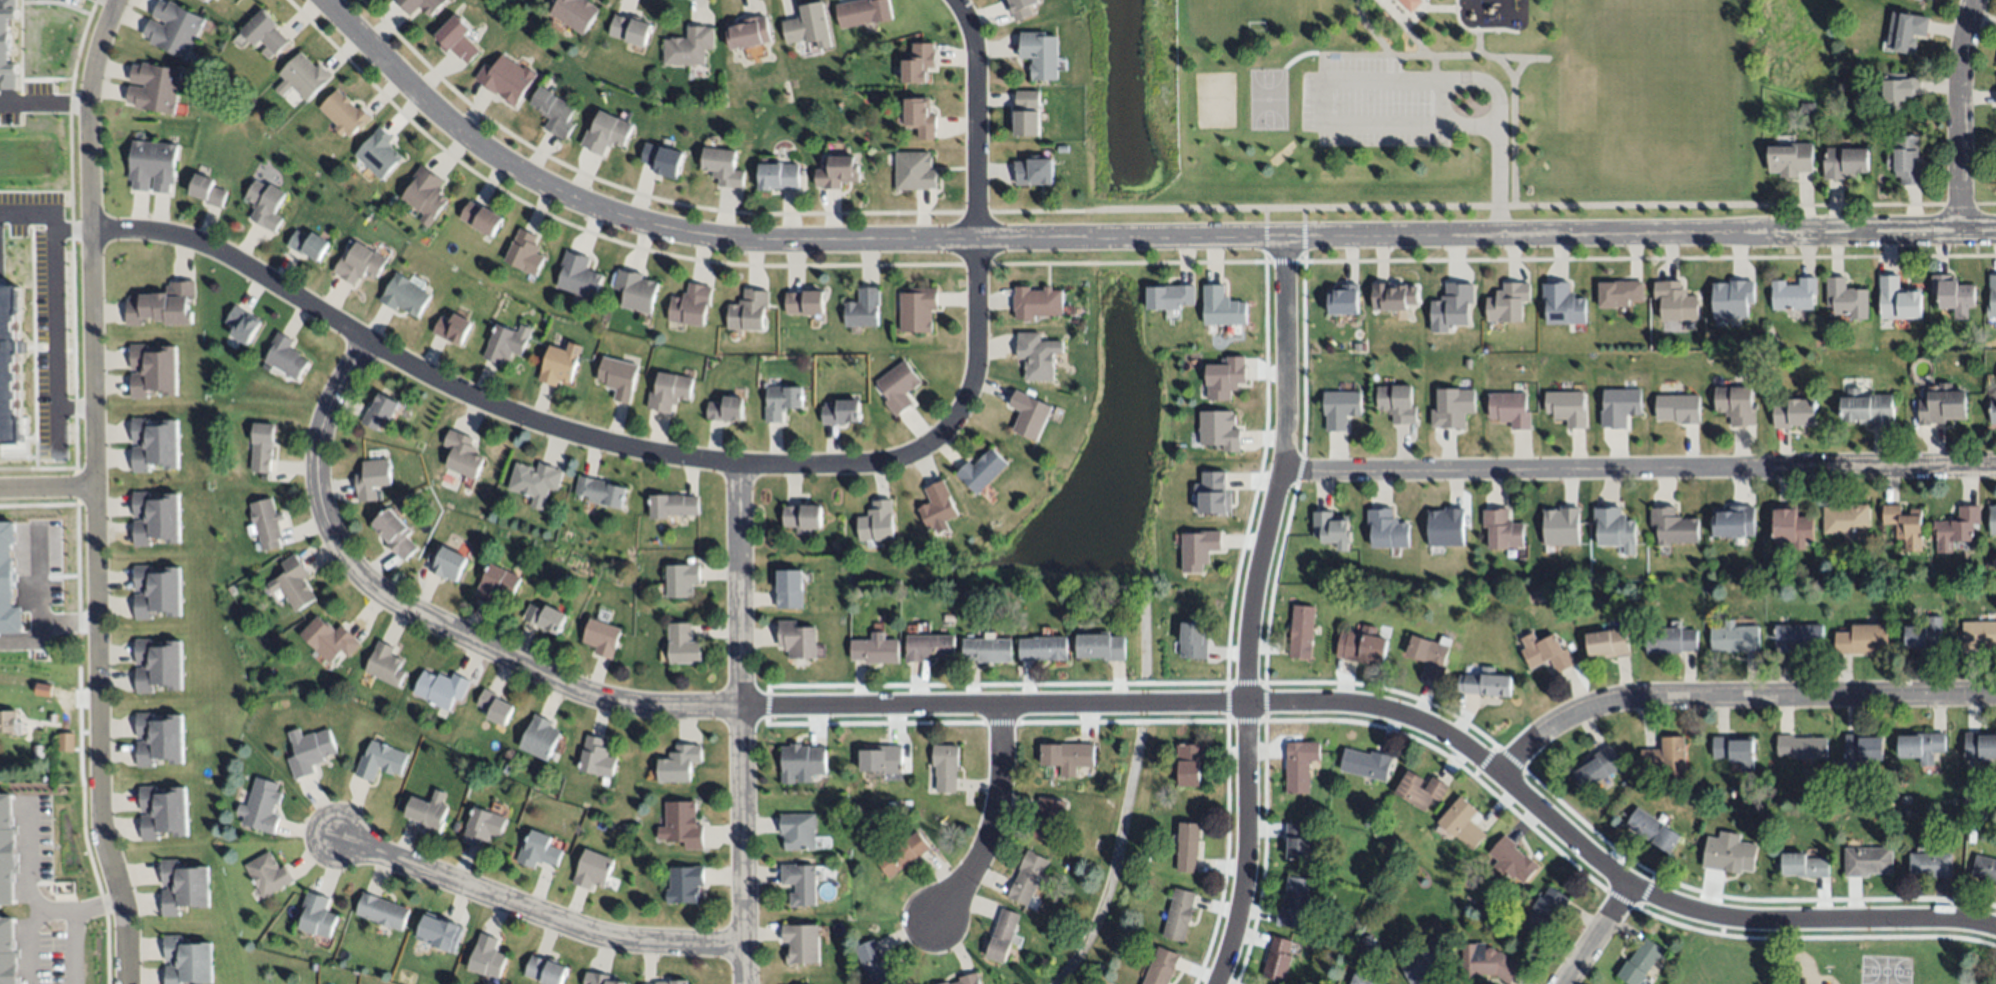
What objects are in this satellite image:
building: (1919, 0)
building: (203, 1)
road: (107, 4)
building: (420, 5)
building: (1412, 5)
building: (1023, 9)
building: (864, 11)
building: (575, 12)
building: (809, 24)
building: (175, 27)
building: (265, 30)
building: (1906, 31)
building: (631, 32)
building: (748, 33)
building: (458, 37)
building: (7, 45)
building: (691, 49)
road: (1515, 57)
building: (1043, 58)
building: (919, 61)
road: (1519, 68)
building: (305, 74)
building: (508, 79)
building: (156, 87)
building: (1898, 89)
park: (1576, 101)
road: (44, 105)
building: (1806, 108)
parking lot: (1361, 109)
park: (1438, 109)
building: (554, 111)
building: (345, 112)
road: (1961, 115)
building: (919, 116)
road: (978, 116)
building: (1029, 117)
building: (607, 131)
building: (378, 151)
building: (663, 158)
road: (1497, 159)
building: (1791, 160)
building: (1907, 160)
building: (153, 164)
road: (1513, 164)
building: (1844, 164)
building: (722, 165)
building: (838, 170)
building: (1033, 170)
building: (777, 174)
building: (915, 174)
building: (207, 189)
building: (425, 192)
building: (267, 203)
road: (1244, 210)
building: (481, 218)
road: (1125, 238)
building: (307, 242)
building: (524, 252)
building: (360, 261)
building: (578, 274)
building: (635, 289)
building: (1170, 292)
building: (1622, 292)
building: (1952, 292)
building: (404, 293)
building: (1395, 294)
building: (1794, 295)
building: (1992, 296)
building: (1735, 297)
building: (1847, 299)
building: (1034, 300)
building: (1679, 300)
building: (1898, 300)
building: (804, 301)
building: (1344, 301)
building: (161, 303)
building: (1508, 303)
building: (1563, 303)
building: (689, 304)
building: (861, 307)
building: (748, 308)
building: (917, 308)
building: (1222, 308)
building: (1451, 308)
road: (48, 319)
building: (243, 324)
building: (452, 326)
building: (504, 341)
building: (1036, 354)
building: (285, 355)
building: (557, 364)
building: (10, 367)
building: (152, 368)
building: (618, 375)
building: (1225, 376)
building: (898, 387)
building: (668, 390)
building: (781, 401)
building: (1397, 401)
building: (1738, 403)
building: (1942, 405)
building: (1619, 407)
building: (725, 408)
building: (1567, 408)
building: (1868, 408)
building: (379, 409)
building: (1452, 409)
building: (1511, 409)
building: (1677, 409)
building: (1340, 410)
building: (841, 412)
building: (1028, 412)
building: (1993, 412)
building: (1794, 413)
building: (1219, 427)
road: (601, 439)
building: (154, 442)
building: (262, 446)
building: (461, 453)
building: (981, 469)
road: (1637, 471)
building: (372, 475)
building: (534, 479)
road: (47, 487)
road: (94, 490)
building: (601, 490)
building: (1214, 493)
building: (936, 504)
building: (671, 505)
building: (155, 516)
building: (802, 516)
building: (1739, 519)
building: (1846, 519)
building: (1992, 520)
building: (877, 521)
building: (265, 522)
building: (1904, 522)
building: (1671, 524)
building: (1503, 526)
building: (1615, 526)
building: (1792, 526)
building: (1334, 527)
building: (1385, 527)
building: (1560, 527)
building: (1445, 528)
building: (1956, 528)
building: (393, 531)
building: (1199, 547)
building: (447, 562)
building: (680, 577)
building: (495, 581)
building: (8, 582)
building: (293, 583)
building: (789, 587)
building: (156, 590)
building: (1330, 591)
road: (1252, 611)
building: (546, 616)
building: (1301, 631)
building: (1978, 634)
building: (1737, 635)
building: (602, 636)
building: (1926, 636)
building: (1798, 637)
building: (330, 638)
building: (1672, 638)
building: (796, 639)
building: (1863, 639)
building: (1193, 641)
building: (682, 642)
building: (1607, 643)
building: (1361, 645)
building: (927, 647)
building: (1100, 647)
building: (1043, 648)
building: (874, 649)
building: (986, 650)
building: (1548, 653)
building: (1430, 656)
building: (157, 663)
building: (384, 663)
building: (1488, 683)
building: (441, 687)
building: (43, 690)
road: (1736, 695)
road: (1066, 704)
building: (495, 705)
building: (10, 723)
road: (741, 723)
building: (539, 734)
building: (158, 736)
building: (1922, 746)
building: (1803, 747)
building: (1979, 748)
building: (1863, 749)
building: (1735, 750)
building: (310, 751)
building: (596, 756)
building: (1666, 756)
building: (1066, 757)
building: (381, 759)
building: (799, 760)
building: (881, 760)
building: (678, 761)
building: (1189, 763)
building: (1366, 764)
building: (1299, 766)
building: (944, 767)
building: (1598, 767)
building: (64, 779)
building: (1420, 790)
building: (1964, 797)
building: (1156, 803)
building: (261, 805)
building: (163, 810)
building: (427, 811)
building: (1046, 819)
road: (993, 823)
building: (1462, 823)
building: (483, 824)
building: (682, 824)
building: (797, 830)
building: (1652, 830)
building: (1299, 842)
building: (1096, 844)
building: (1186, 847)
building: (538, 849)
building: (7, 850)
building: (1729, 853)
building: (901, 854)
building: (1143, 859)
building: (1512, 861)
building: (1867, 861)
building: (1805, 865)
building: (1931, 865)
building: (591, 867)
building: (1382, 867)
building: (1984, 868)
building: (268, 873)
building: (1028, 878)
building: (685, 882)
building: (799, 882)
building: (182, 885)
road: (28, 903)
building: (1293, 904)
building: (381, 910)
building: (1545, 910)
road: (532, 911)
building: (316, 914)
building: (1178, 915)
building: (437, 926)
building: (1066, 933)
road: (1596, 934)
building: (1001, 936)
building: (800, 941)
building: (8, 953)
building: (486, 954)
building: (187, 960)
building: (1277, 960)
building: (1487, 962)
building: (1640, 962)
building: (1426, 963)
building: (876, 964)
building: (1160, 967)
building: (545, 969)
park: (1829, 969)
building: (600, 978)
building: (967, 979)
building: (1363, 980)
building: (671, 981)
building: (944, 983)

